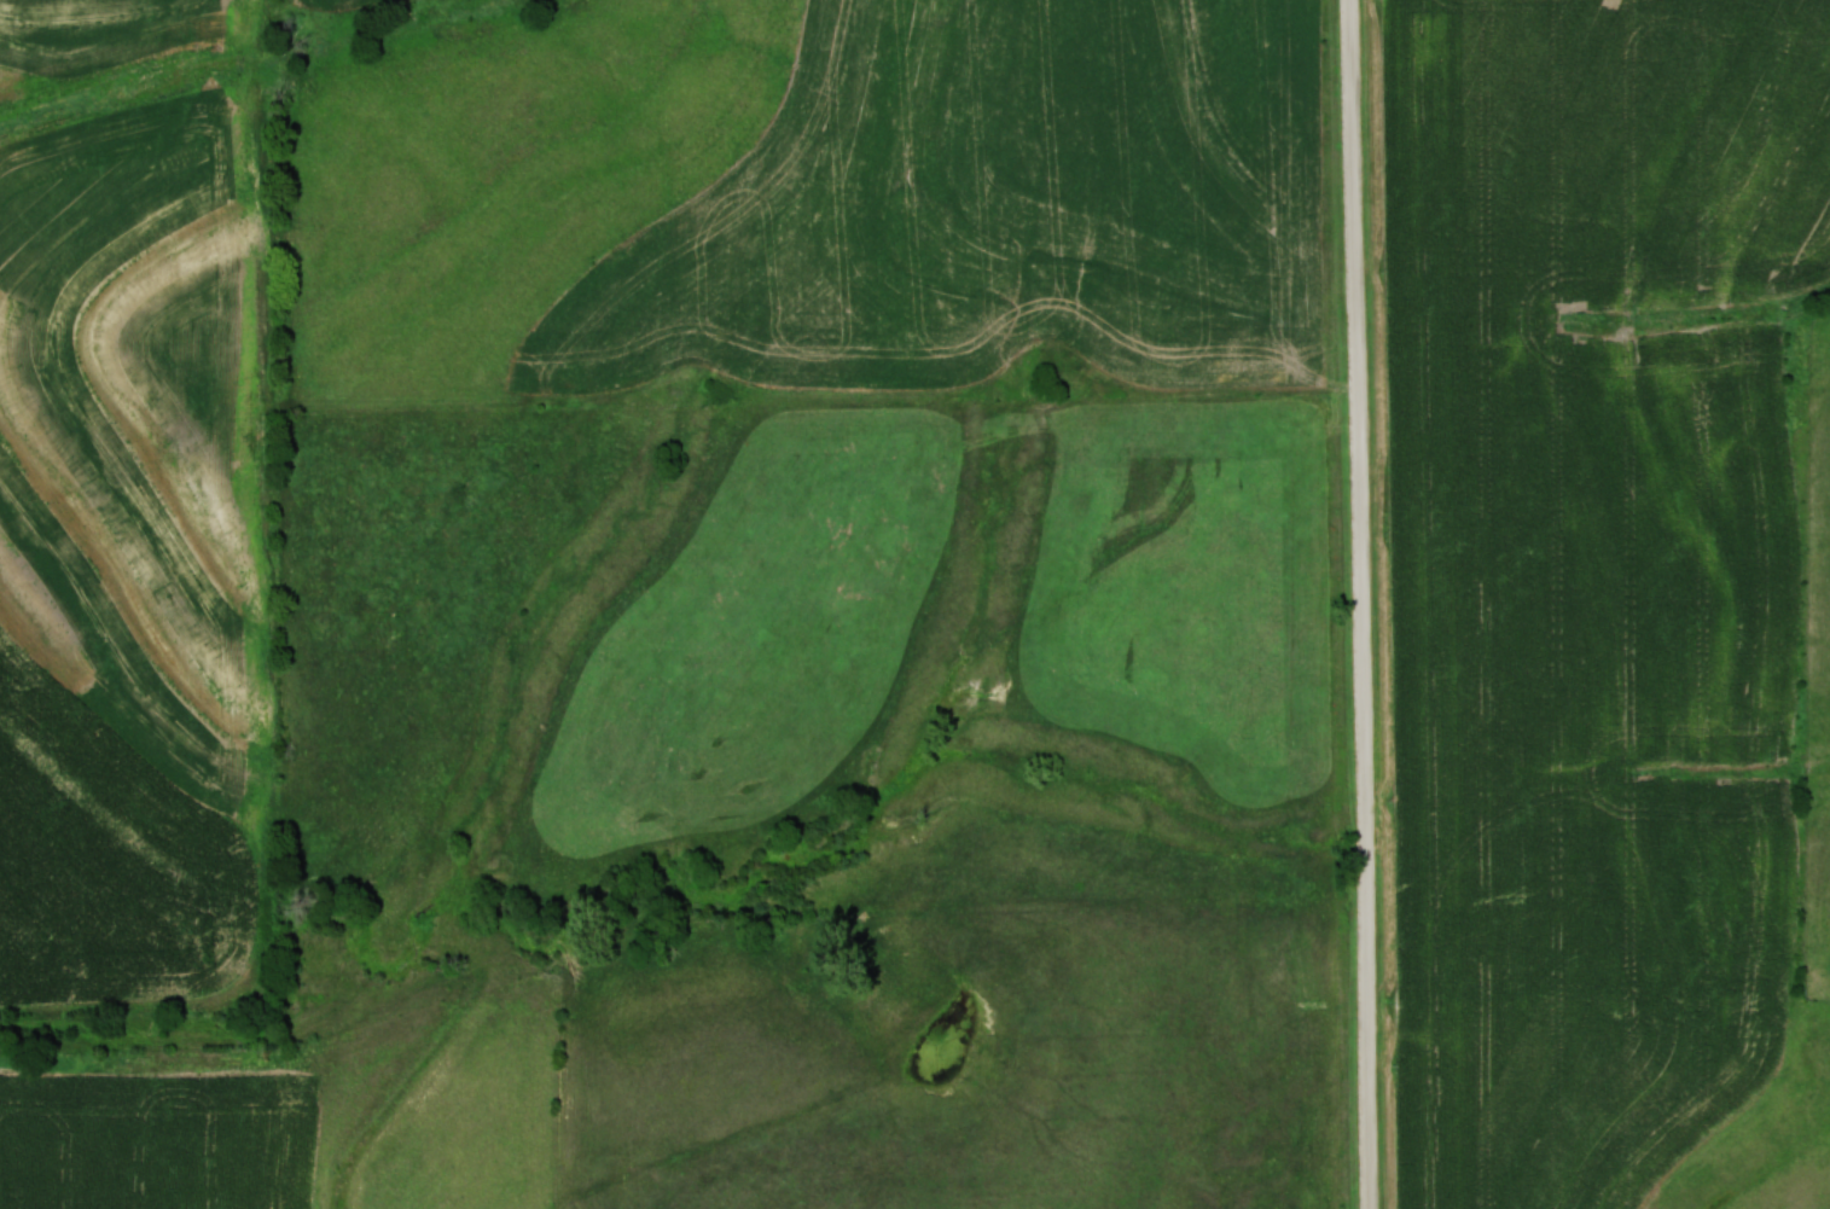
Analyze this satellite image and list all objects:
road: (1363, 604)

